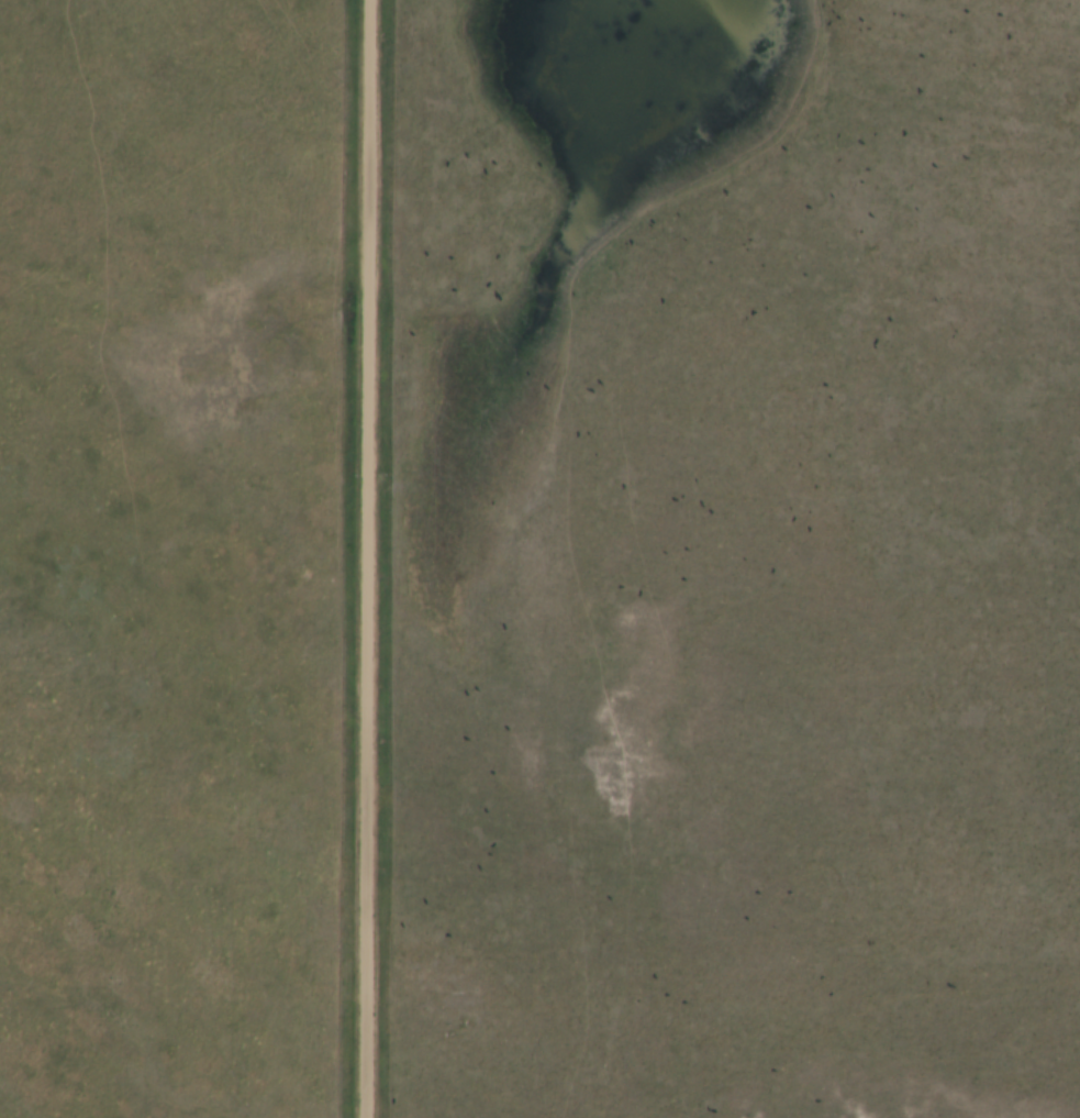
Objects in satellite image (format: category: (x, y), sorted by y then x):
road: (366, 558)

